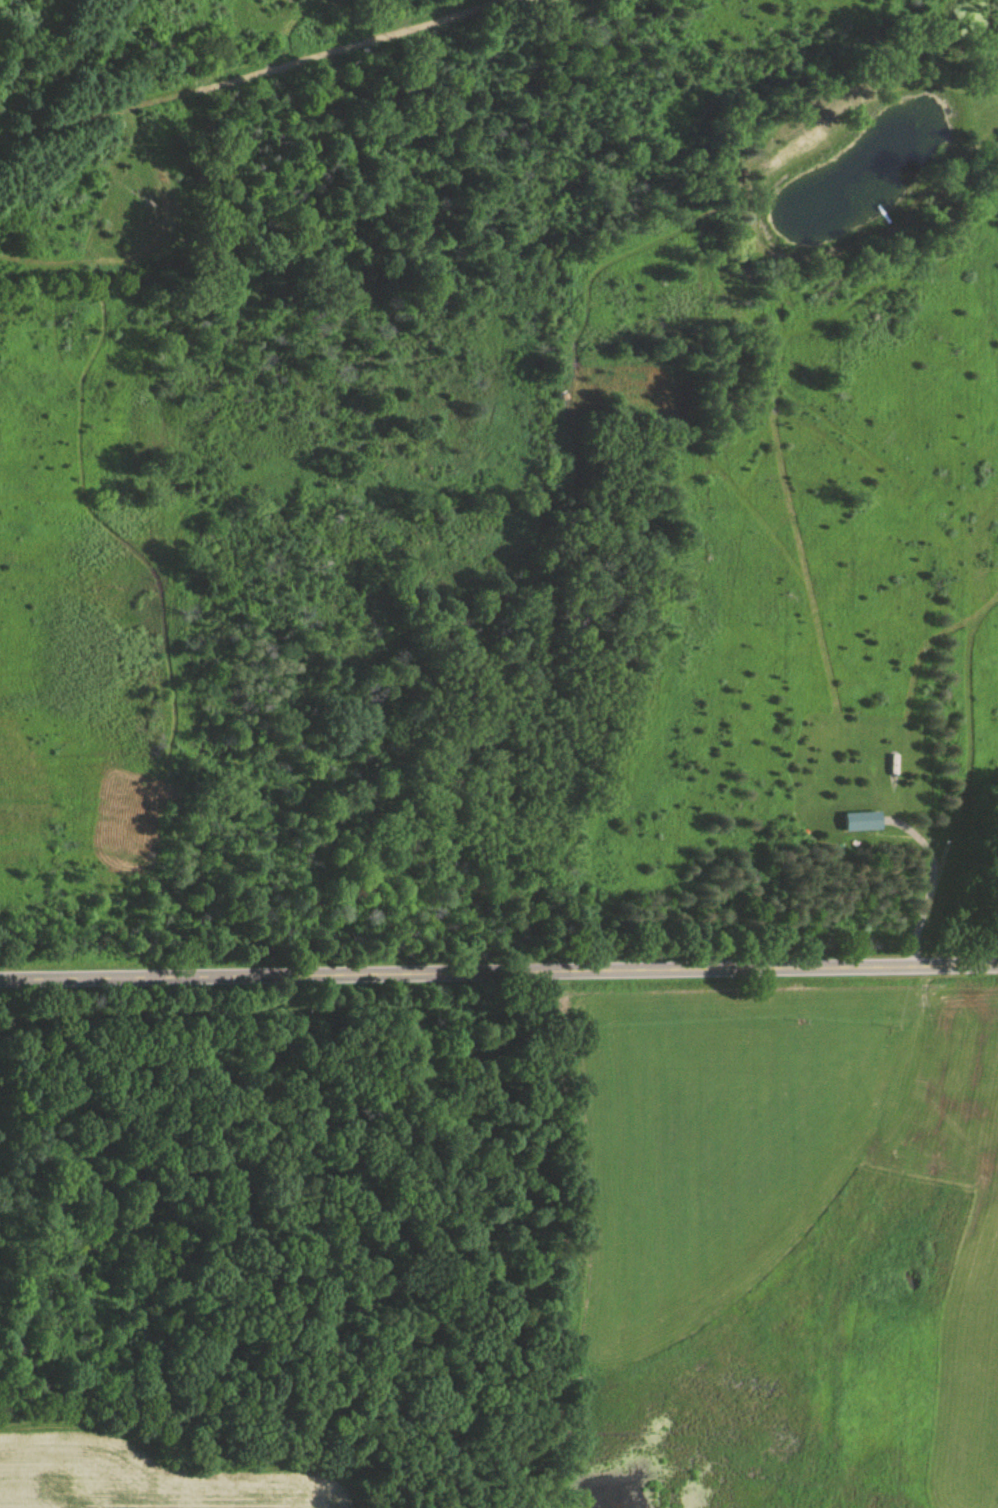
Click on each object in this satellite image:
road: (499, 971)

